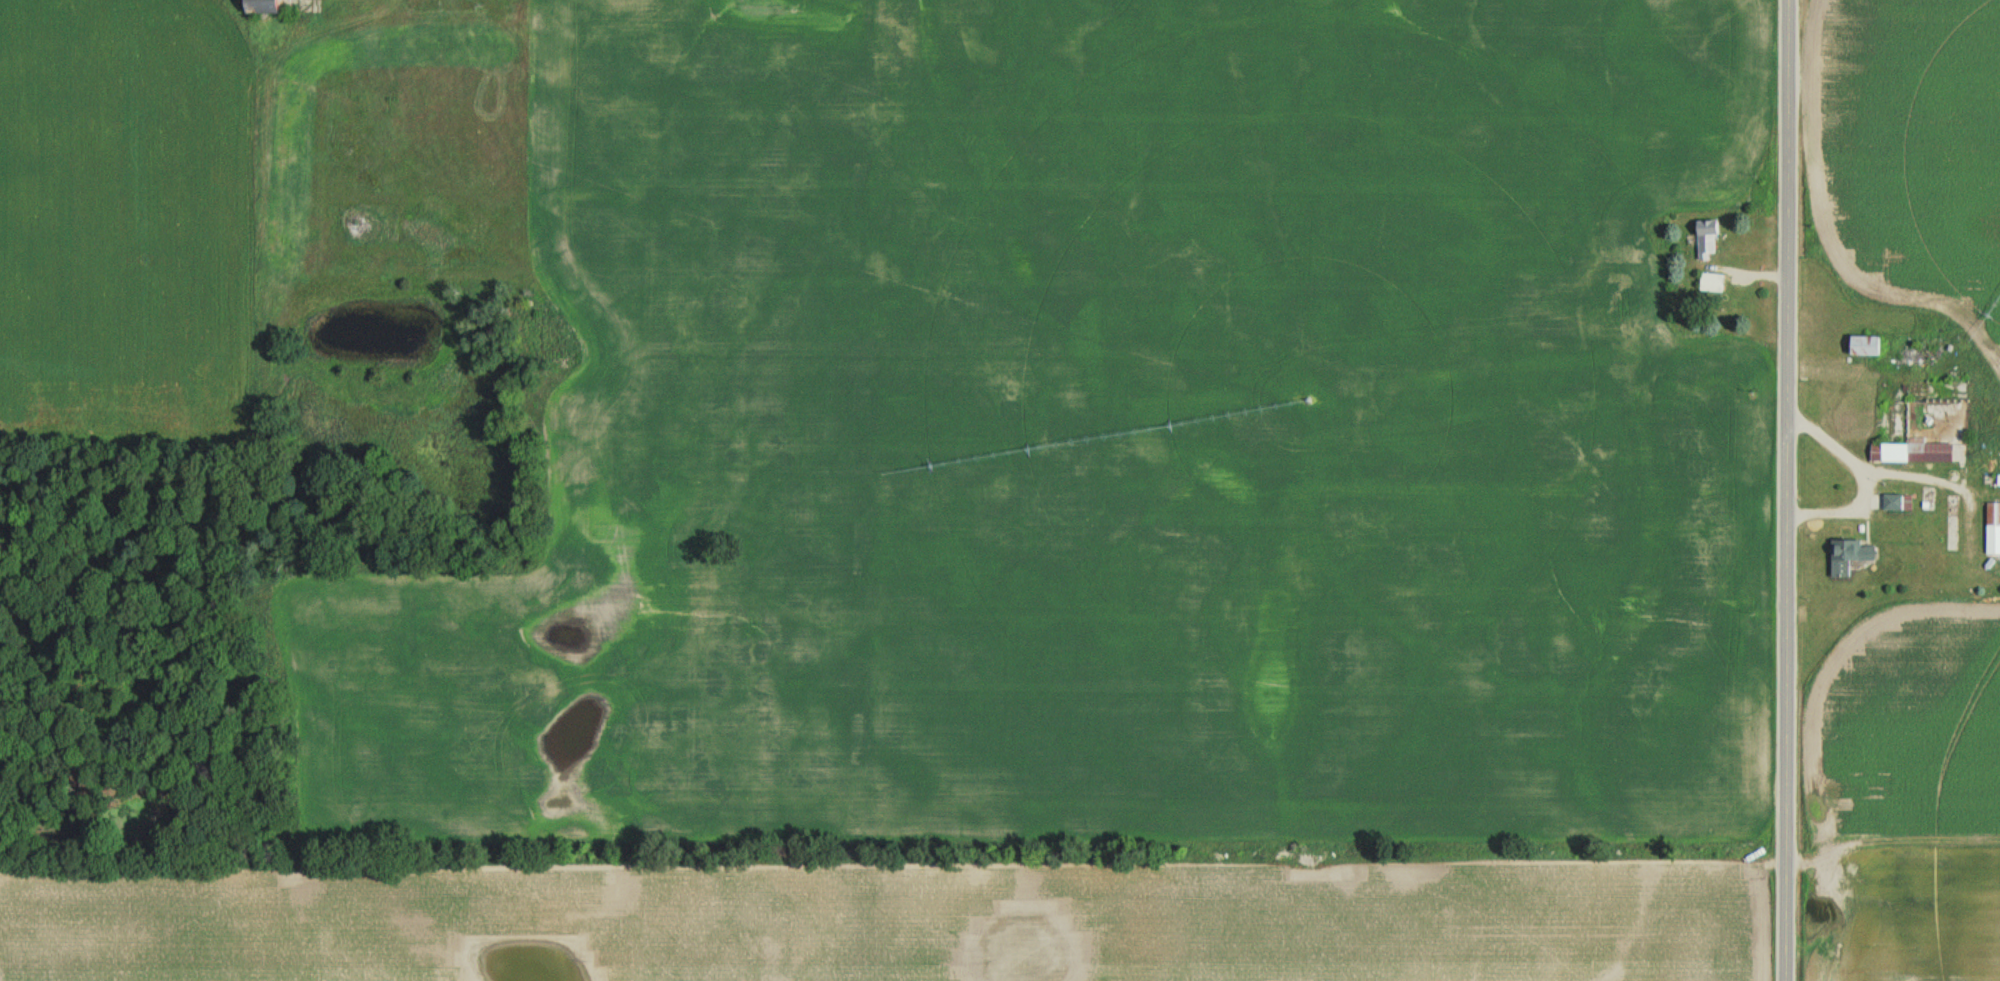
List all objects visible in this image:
building: (264, 6)
building: (1704, 239)
building: (1862, 345)
building: (1911, 451)
road: (1859, 477)
road: (1785, 490)
building: (1896, 501)
building: (1992, 522)
building: (1847, 555)

